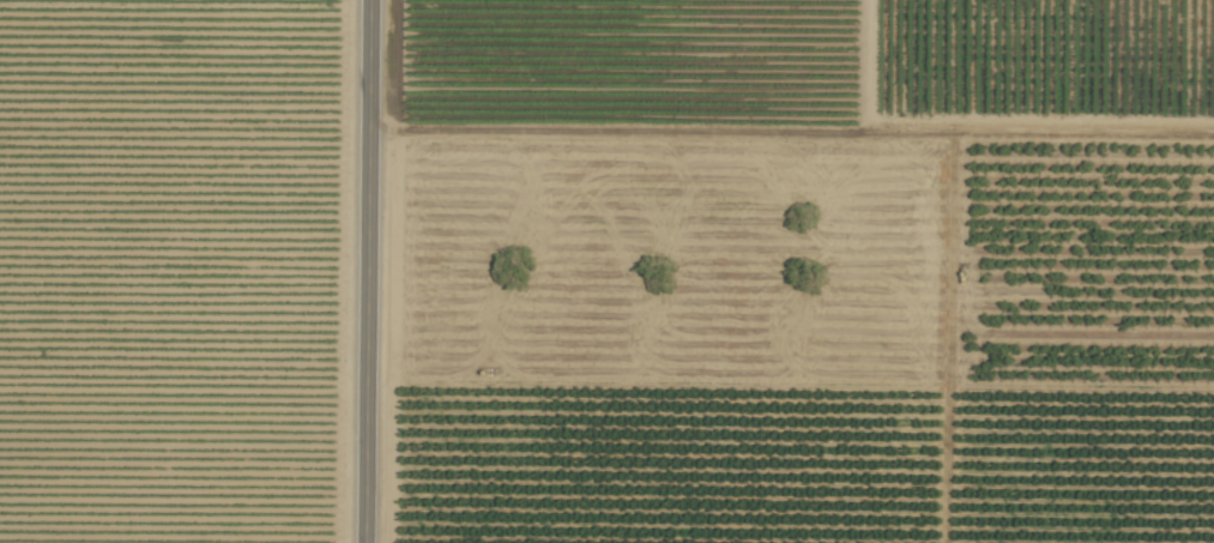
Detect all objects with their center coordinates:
road: (368, 271)

